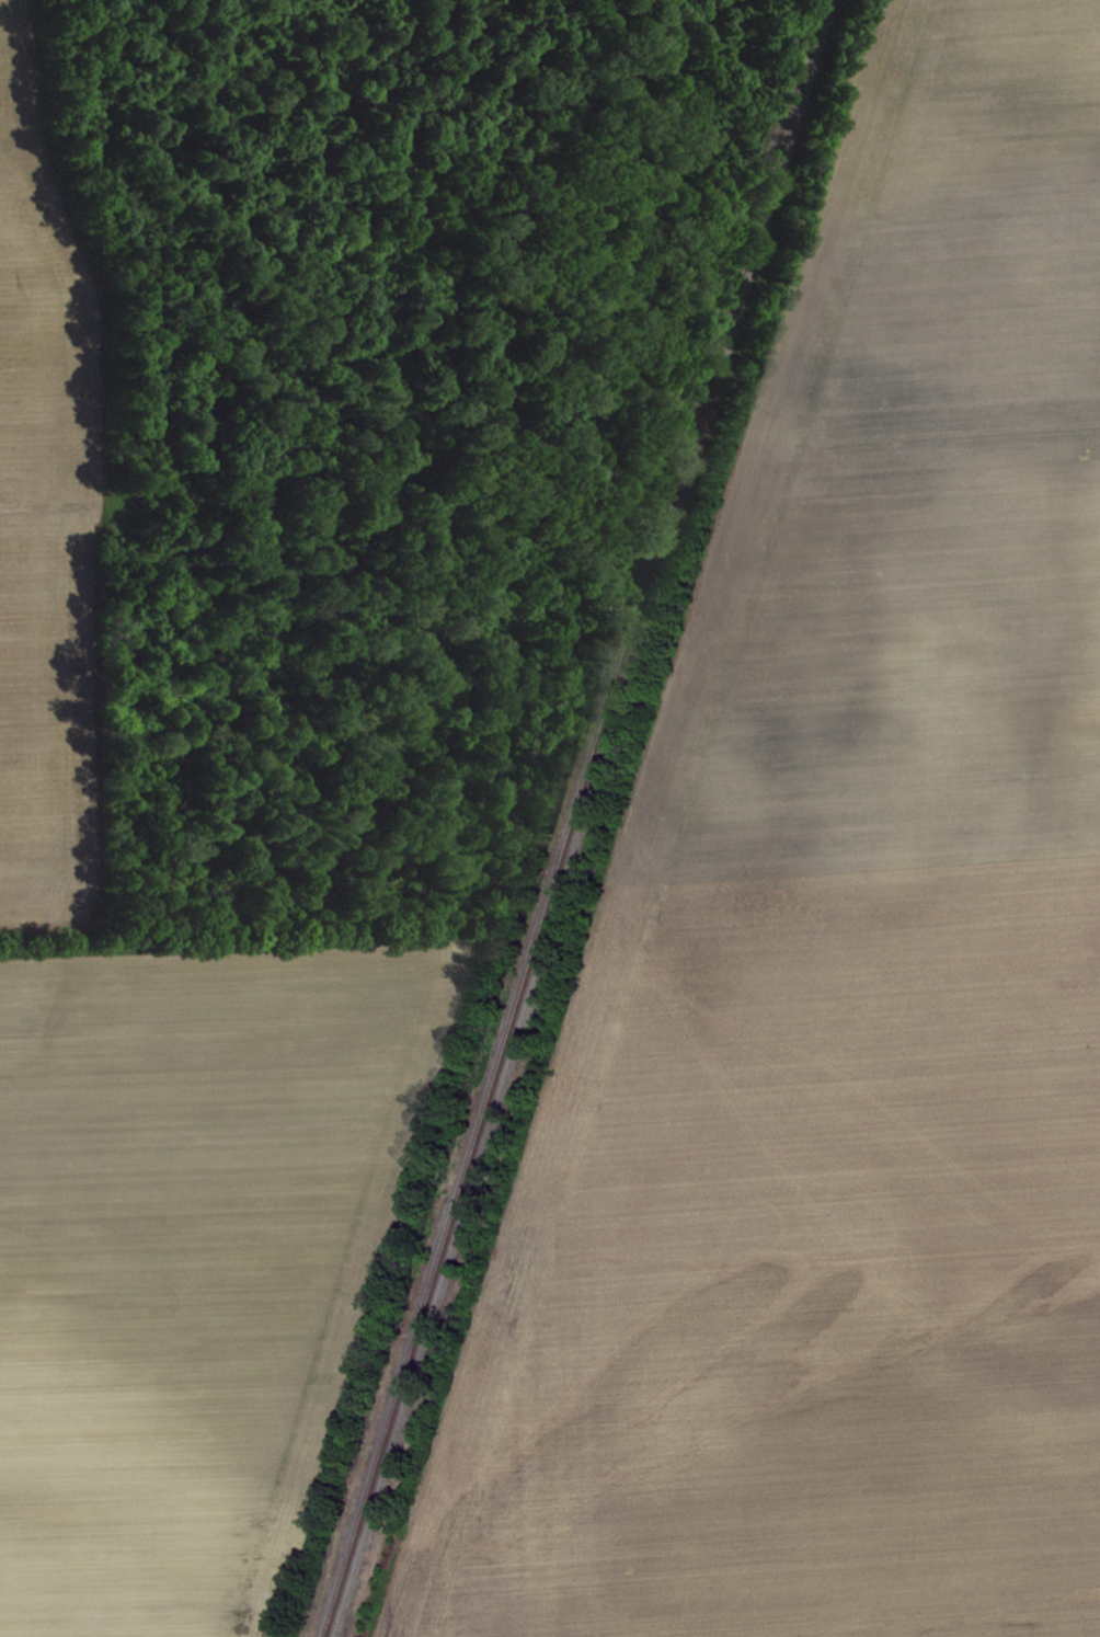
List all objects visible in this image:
railway: (575, 819)

